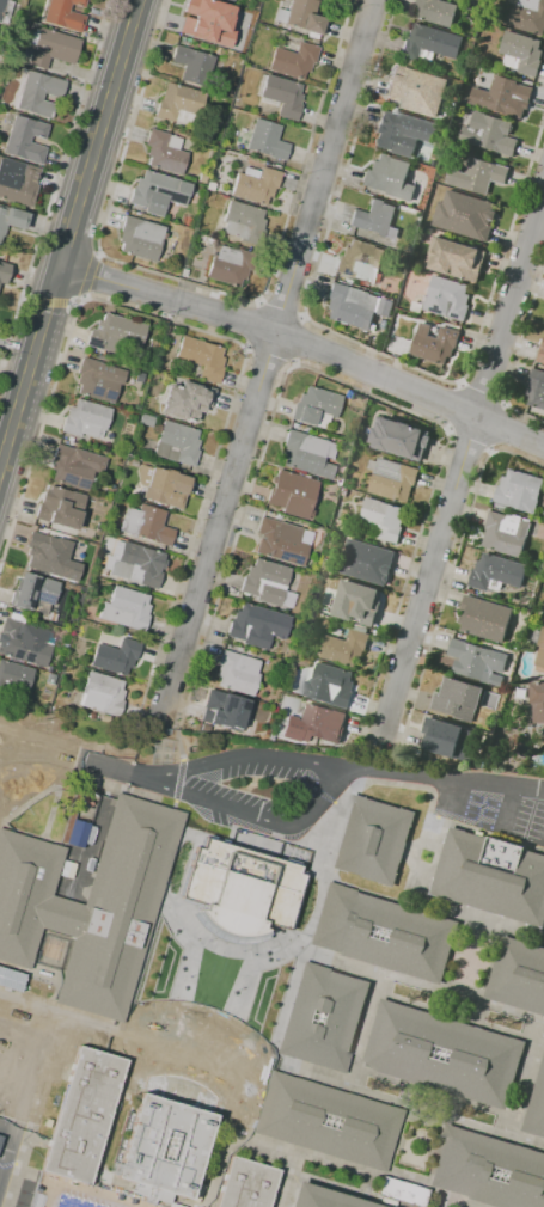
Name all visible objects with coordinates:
building: (230, 0)
building: (5, 10)
building: (438, 11)
building: (65, 14)
building: (527, 16)
building: (300, 17)
building: (208, 22)
building: (24, 24)
building: (430, 43)
building: (51, 48)
building: (521, 53)
building: (294, 61)
building: (410, 61)
building: (192, 65)
building: (416, 90)
building: (36, 93)
building: (283, 96)
building: (503, 96)
building: (179, 104)
building: (403, 131)
building: (489, 133)
building: (25, 140)
building: (267, 140)
building: (165, 152)
building: (477, 174)
building: (389, 177)
building: (202, 178)
building: (18, 182)
road: (54, 183)
building: (256, 184)
building: (210, 186)
building: (158, 192)
building: (220, 198)
building: (465, 214)
building: (375, 219)
building: (11, 220)
building: (243, 221)
road: (68, 233)
building: (140, 239)
building: (204, 241)
building: (456, 257)
building: (360, 262)
building: (230, 265)
building: (4, 272)
building: (183, 272)
road: (91, 275)
road: (203, 288)
building: (447, 298)
building: (350, 306)
building: (385, 307)
road: (282, 308)
road: (251, 325)
building: (165, 330)
building: (116, 333)
road: (215, 335)
road: (298, 341)
road: (304, 342)
road: (357, 343)
building: (434, 343)
road: (517, 350)
building: (540, 354)
building: (202, 357)
road: (264, 357)
road: (267, 360)
building: (137, 378)
building: (99, 380)
road: (343, 381)
road: (484, 387)
building: (537, 388)
building: (349, 394)
building: (187, 400)
road: (451, 404)
building: (316, 408)
building: (85, 419)
building: (146, 419)
road: (502, 428)
building: (399, 437)
road: (470, 441)
building: (177, 443)
road: (458, 448)
building: (307, 454)
building: (134, 462)
building: (74, 466)
building: (392, 479)
building: (163, 486)
building: (344, 491)
building: (519, 491)
building: (292, 494)
building: (501, 506)
building: (60, 508)
building: (383, 520)
building: (145, 523)
building: (506, 533)
building: (282, 541)
building: (50, 556)
building: (367, 562)
building: (137, 565)
building: (100, 571)
building: (496, 572)
road: (450, 574)
building: (267, 583)
building: (33, 594)
building: (356, 601)
building: (127, 608)
building: (51, 617)
building: (485, 618)
building: (257, 626)
building: (23, 642)
building: (347, 647)
building: (539, 650)
building: (116, 657)
building: (477, 661)
building: (237, 673)
building: (13, 676)
building: (330, 685)
building: (103, 693)
building: (458, 698)
building: (538, 700)
building: (224, 710)
building: (90, 716)
building: (323, 723)
building: (448, 739)
road: (181, 746)
road: (75, 756)
road: (251, 758)
road: (408, 774)
road: (93, 778)
road: (181, 782)
road: (514, 785)
road: (531, 788)
parking lot: (258, 798)
road: (263, 816)
building: (75, 832)
building: (373, 840)
road: (179, 860)
building: (491, 876)
building: (242, 888)
building: (91, 905)
building: (384, 933)
building: (519, 975)
building: (324, 1018)
road: (236, 1021)
road: (37, 1043)
building: (444, 1053)
parking lot: (18, 1086)
building: (67, 1089)
road: (20, 1105)
building: (536, 1107)
building: (328, 1121)
road: (7, 1125)
building: (167, 1138)
building: (0, 1139)
road: (7, 1154)
building: (489, 1169)
road: (1, 1170)
building: (246, 1184)
building: (402, 1191)
building: (322, 1199)

